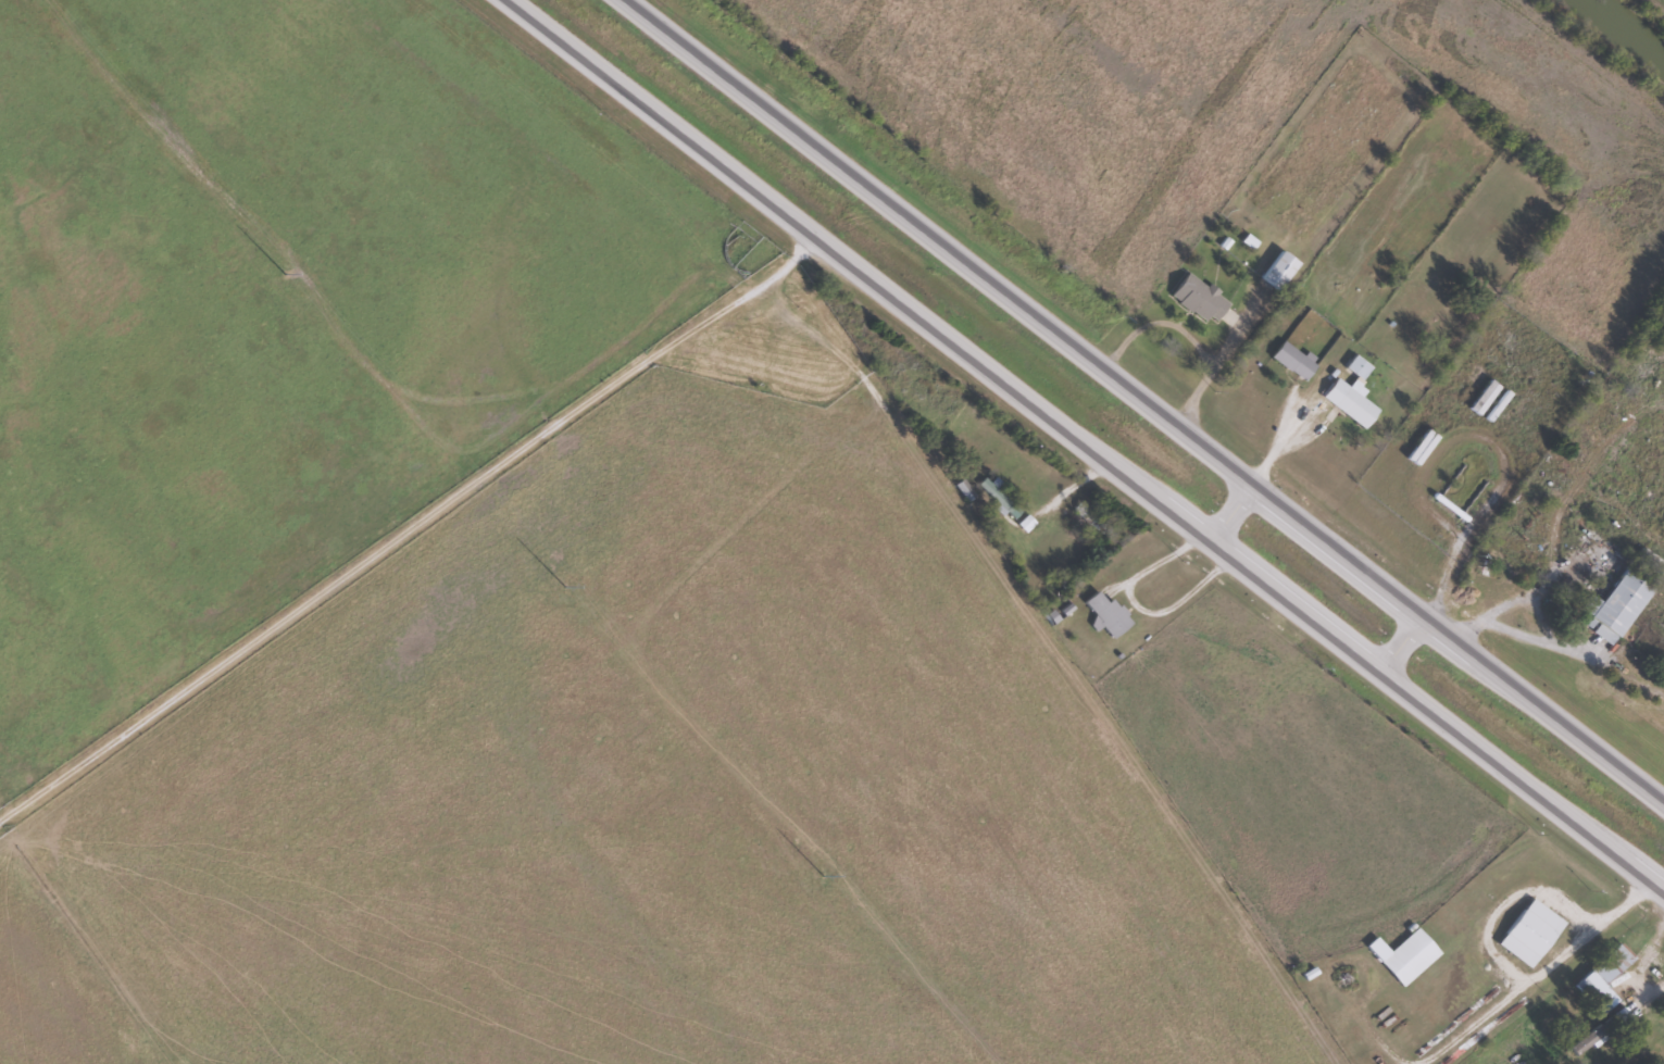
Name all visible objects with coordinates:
railway: (1627, 27)
building: (1280, 270)
building: (1199, 298)
building: (1294, 361)
building: (1355, 365)
road: (1147, 399)
building: (1356, 408)
road: (1089, 443)
road: (1229, 508)
road: (409, 526)
building: (1619, 602)
building: (1109, 614)
road: (1397, 637)
building: (1530, 932)
building: (1404, 954)
building: (1603, 978)
building: (1601, 1030)

